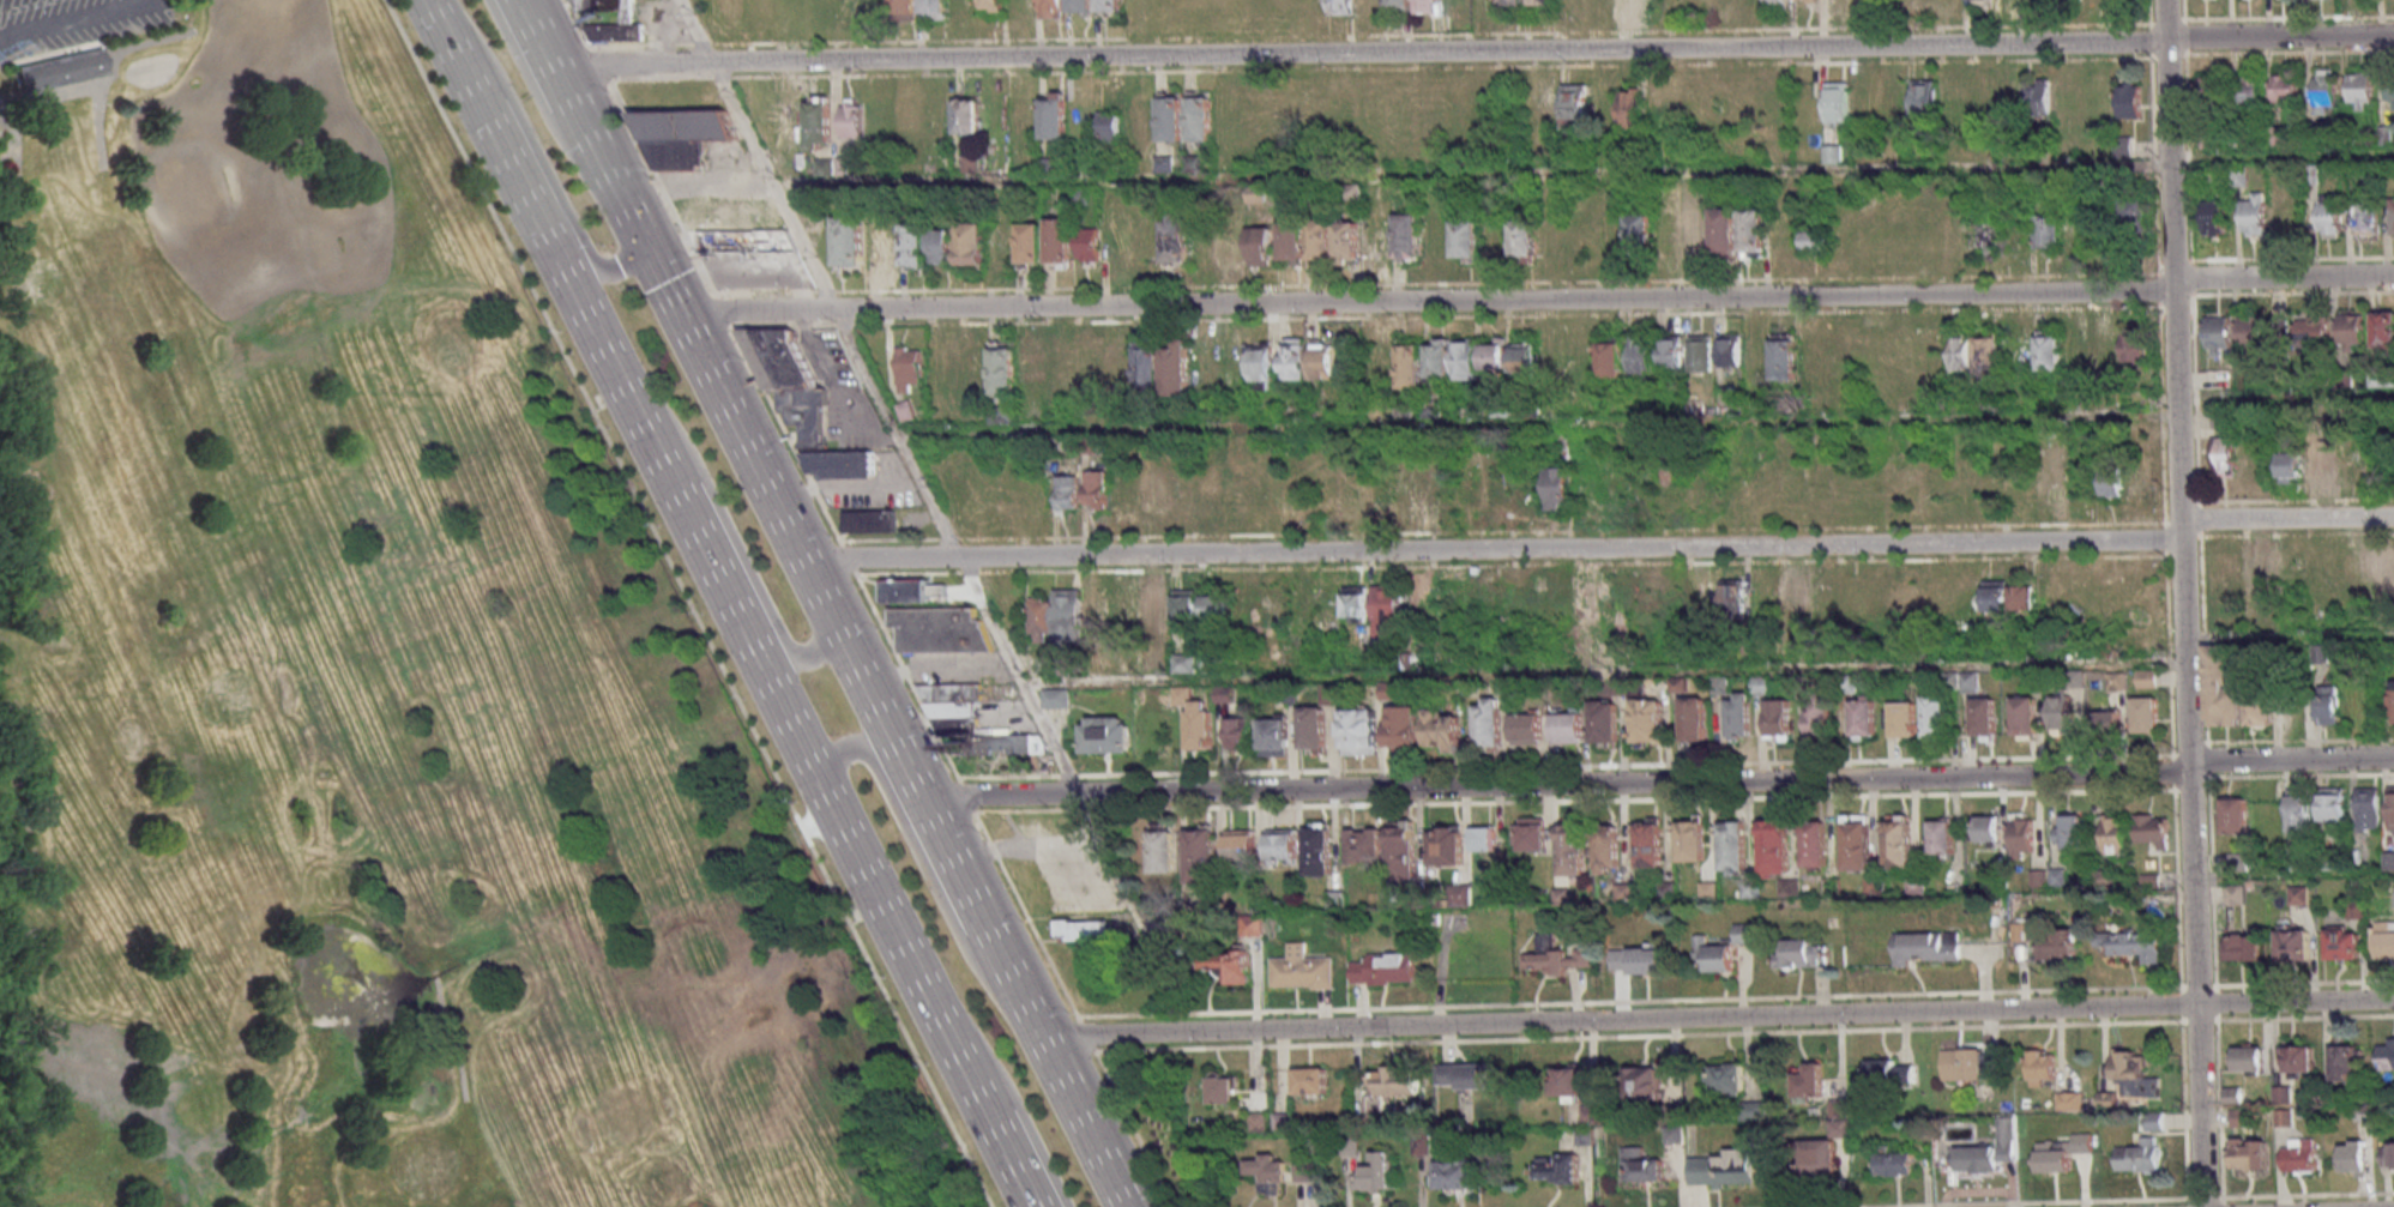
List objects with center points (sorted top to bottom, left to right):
building: (1976, 0)
road: (150, 1)
road: (429, 2)
building: (1512, 2)
building: (1540, 2)
building: (1602, 2)
building: (1747, 2)
building: (990, 4)
building: (1166, 4)
building: (1482, 4)
building: (1632, 4)
building: (1777, 4)
building: (1825, 4)
building: (905, 5)
building: (1110, 5)
building: (608, 6)
building: (1080, 6)
building: (1339, 6)
building: (1397, 6)
building: (1427, 6)
building: (1051, 8)
building: (934, 10)
building: (761, 12)
road: (74, 20)
parking lot: (73, 24)
building: (616, 31)
road: (538, 32)
road: (1556, 49)
road: (637, 64)
building: (59, 68)
road: (107, 79)
building: (2359, 86)
building: (2323, 89)
building: (2211, 91)
building: (2249, 91)
building: (2284, 91)
building: (2389, 91)
building: (2037, 96)
building: (1982, 97)
building: (1923, 98)
road: (541, 101)
building: (2128, 101)
building: (1837, 102)
building: (1574, 103)
building: (1603, 104)
building: (1867, 104)
building: (1546, 105)
building: (1630, 108)
building: (1430, 109)
building: (1775, 109)
building: (1953, 109)
building: (1054, 115)
building: (1170, 116)
building: (851, 117)
building: (970, 117)
building: (1199, 117)
building: (937, 119)
building: (818, 120)
building: (906, 120)
road: (585, 126)
building: (1108, 126)
road: (14, 131)
road: (98, 131)
building: (685, 138)
road: (537, 150)
road: (755, 153)
building: (1832, 153)
road: (2281, 155)
road: (14, 156)
road: (1470, 175)
road: (532, 211)
building: (2254, 215)
building: (2390, 215)
building: (2130, 216)
building: (2213, 217)
road: (631, 218)
building: (2364, 218)
building: (2327, 219)
building: (1723, 230)
building: (1753, 231)
building: (2044, 231)
building: (1639, 234)
building: (1664, 234)
building: (1409, 235)
building: (1694, 236)
building: (1926, 236)
building: (1983, 236)
building: (1175, 237)
building: (1524, 237)
building: (1465, 239)
building: (1346, 240)
building: (1377, 240)
building: (1813, 240)
building: (728, 241)
building: (1060, 241)
building: (1117, 241)
building: (1320, 241)
building: (849, 242)
building: (1002, 242)
building: (1031, 242)
building: (1292, 242)
building: (971, 245)
building: (887, 246)
building: (915, 246)
building: (940, 246)
building: (1261, 246)
building: (1089, 247)
building: (1204, 248)
building: (1232, 249)
traffic signals: (647, 251)
road: (303, 273)
road: (662, 280)
road: (1537, 300)
building: (2383, 328)
building: (2311, 332)
building: (2350, 332)
building: (2218, 333)
building: (2253, 333)
building: (2103, 349)
building: (2133, 350)
building: (1671, 351)
building: (1730, 351)
building: (1700, 352)
building: (2045, 352)
building: (1495, 354)
building: (1813, 355)
building: (1783, 356)
building: (1522, 357)
building: (1610, 357)
building: (1640, 357)
building: (1205, 358)
building: (1294, 358)
building: (1465, 358)
building: (1986, 358)
building: (1439, 360)
building: (1323, 361)
building: (1569, 361)
building: (1380, 362)
building: (1147, 364)
building: (1262, 366)
building: (1411, 366)
building: (1032, 367)
building: (1176, 367)
building: (975, 368)
building: (1091, 368)
building: (1120, 368)
building: (909, 369)
building: (1003, 369)
building: (789, 380)
building: (2218, 380)
road: (2285, 394)
road: (599, 406)
road: (1536, 420)
building: (2223, 443)
building: (840, 465)
building: (2291, 466)
building: (2048, 483)
building: (2111, 483)
building: (2139, 483)
building: (1557, 487)
building: (1097, 489)
building: (1413, 489)
building: (1242, 490)
building: (1124, 493)
building: (1067, 494)
building: (1156, 494)
building: (870, 520)
road: (1600, 548)
road: (737, 549)
road: (957, 549)
building: (2261, 571)
building: (2387, 571)
building: (913, 590)
building: (2221, 591)
building: (1733, 593)
building: (2007, 596)
building: (1796, 597)
building: (1761, 599)
building: (1893, 601)
road: (688, 603)
building: (1357, 603)
road: (2183, 603)
road: (867, 604)
building: (1216, 605)
building: (1853, 605)
building: (1186, 606)
building: (1247, 606)
building: (1273, 606)
building: (1099, 608)
building: (1331, 609)
building: (1387, 610)
building: (1129, 612)
building: (1156, 612)
building: (1068, 616)
building: (1041, 620)
building: (941, 630)
road: (2289, 634)
road: (1604, 671)
building: (2146, 678)
building: (1970, 681)
building: (2116, 681)
building: (2221, 683)
park: (363, 692)
park: (363, 692)
building: (1056, 698)
building: (2392, 701)
building: (2328, 704)
building: (2260, 710)
building: (2060, 712)
road: (785, 713)
building: (1739, 714)
building: (1863, 716)
building: (1935, 716)
building: (2145, 716)
building: (1819, 717)
building: (2025, 717)
building: (1779, 718)
building: (1900, 718)
building: (1980, 718)
building: (1694, 719)
building: (1489, 720)
building: (1650, 720)
building: (1605, 722)
building: (2105, 722)
building: (1200, 724)
building: (971, 725)
building: (1403, 725)
building: (1568, 725)
building: (1314, 728)
building: (1443, 728)
building: (1527, 728)
building: (1361, 730)
building: (1240, 732)
building: (1106, 735)
building: (1274, 735)
road: (842, 750)
road: (901, 758)
road: (1658, 781)
building: (2332, 804)
building: (2390, 807)
building: (2368, 808)
building: (2298, 809)
building: (2231, 816)
building: (1986, 828)
building: (2115, 829)
building: (2068, 831)
building: (2151, 831)
building: (1531, 833)
building: (2021, 835)
building: (1941, 837)
building: (1484, 838)
building: (1692, 838)
building: (1898, 840)
building: (1650, 841)
building: (1856, 841)
building: (1282, 843)
building: (1241, 844)
building: (1814, 844)
building: (1364, 845)
building: (1775, 845)
building: (1448, 846)
building: (1733, 847)
building: (1606, 849)
building: (1163, 850)
building: (1317, 850)
building: (1573, 850)
road: (1047, 852)
building: (1403, 853)
building: (1201, 855)
parking lot: (1083, 874)
building: (1624, 891)
building: (2297, 895)
road: (940, 903)
road: (855, 917)
building: (1084, 927)
building: (1253, 927)
building: (2383, 940)
building: (2057, 943)
building: (2340, 943)
building: (2136, 945)
building: (2292, 946)
building: (1923, 948)
building: (2242, 948)
building: (1804, 953)
building: (1556, 955)
building: (1714, 955)
building: (1636, 959)
building: (1229, 964)
building: (1302, 968)
building: (1385, 968)
road: (1717, 1015)
road: (458, 1034)
building: (2386, 1054)
building: (2249, 1060)
building: (2298, 1061)
building: (2342, 1062)
building: (1961, 1063)
building: (2042, 1066)
building: (2127, 1066)
building: (1889, 1073)
building: (1465, 1076)
building: (1726, 1079)
building: (1310, 1080)
building: (1810, 1080)
building: (1397, 1081)
building: (1569, 1081)
building: (1645, 1082)
road: (972, 1086)
building: (1223, 1088)
building: (2281, 1094)
road: (1012, 1099)
building: (1282, 1121)
building: (1674, 1134)
building: (1422, 1145)
building: (1988, 1151)
building: (2064, 1153)
building: (2248, 1153)
building: (2387, 1153)
building: (2298, 1154)
building: (1819, 1155)
building: (2352, 1155)
building: (2136, 1158)
building: (1895, 1161)
building: (1638, 1165)
building: (1558, 1169)
building: (1721, 1169)
building: (1303, 1170)
building: (1268, 1172)
building: (1457, 1173)
building: (1373, 1176)
road: (1021, 1184)
road: (125, 1194)

